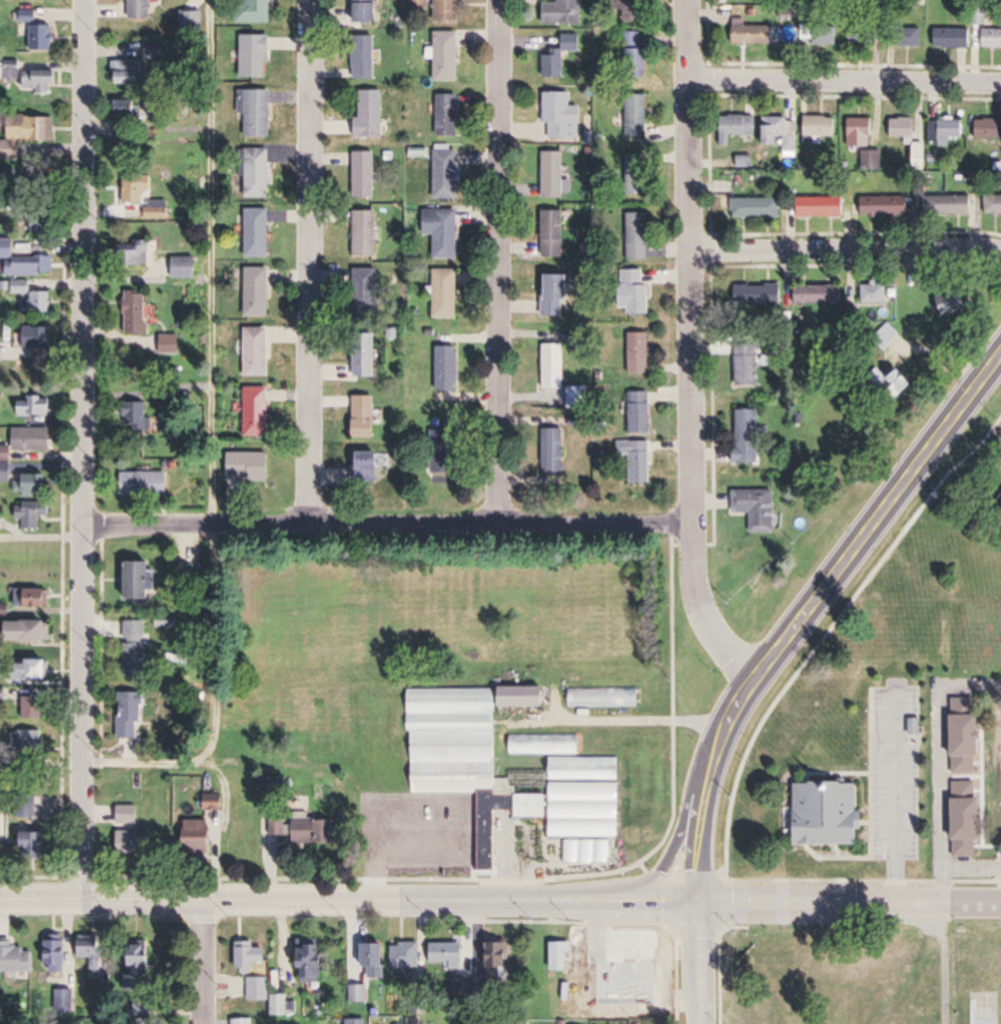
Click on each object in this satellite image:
building: (143, 9)
building: (257, 11)
building: (368, 11)
building: (449, 11)
building: (633, 11)
building: (564, 13)
building: (979, 16)
building: (818, 28)
building: (38, 31)
building: (753, 34)
building: (862, 35)
building: (909, 38)
building: (952, 39)
building: (990, 39)
building: (561, 55)
building: (257, 56)
building: (365, 57)
building: (448, 57)
building: (636, 57)
building: (127, 72)
building: (32, 77)
road: (846, 80)
building: (127, 109)
building: (258, 114)
building: (370, 114)
building: (449, 115)
building: (637, 116)
building: (563, 118)
building: (741, 125)
building: (822, 125)
building: (903, 128)
building: (987, 129)
building: (945, 131)
building: (861, 132)
building: (785, 133)
building: (27, 135)
building: (258, 173)
building: (365, 174)
building: (637, 174)
building: (447, 175)
building: (558, 187)
building: (139, 188)
building: (993, 204)
building: (885, 205)
building: (948, 205)
building: (822, 207)
building: (756, 208)
building: (159, 210)
building: (40, 222)
building: (443, 231)
building: (259, 233)
building: (366, 233)
building: (554, 233)
building: (639, 236)
road: (850, 246)
building: (141, 252)
building: (24, 261)
road: (501, 263)
road: (312, 264)
building: (184, 267)
building: (366, 288)
building: (258, 292)
building: (557, 292)
building: (446, 293)
building: (639, 293)
building: (758, 294)
building: (820, 294)
building: (875, 296)
building: (34, 297)
building: (137, 313)
building: (37, 337)
building: (1, 347)
road: (695, 348)
building: (258, 351)
building: (365, 356)
building: (641, 357)
building: (747, 364)
building: (449, 367)
building: (555, 371)
building: (903, 381)
building: (580, 396)
building: (35, 407)
building: (257, 411)
building: (641, 412)
building: (366, 415)
building: (135, 418)
building: (749, 436)
building: (33, 439)
road: (85, 449)
building: (444, 451)
building: (555, 451)
building: (640, 461)
building: (250, 466)
building: (370, 466)
road: (212, 480)
building: (145, 483)
building: (32, 484)
building: (998, 500)
building: (760, 511)
building: (34, 514)
road: (878, 517)
road: (389, 527)
road: (42, 537)
building: (144, 579)
building: (36, 597)
building: (37, 631)
building: (137, 648)
building: (32, 671)
building: (525, 696)
building: (604, 697)
road: (741, 697)
building: (33, 708)
building: (132, 715)
building: (968, 734)
building: (544, 744)
road: (944, 768)
building: (453, 779)
building: (214, 802)
building: (581, 805)
building: (27, 806)
road: (705, 809)
building: (128, 815)
building: (969, 819)
road: (681, 821)
building: (830, 827)
building: (278, 831)
building: (315, 831)
building: (199, 835)
building: (131, 843)
building: (33, 846)
road: (304, 899)
road: (653, 903)
road: (849, 905)
building: (94, 952)
building: (449, 954)
building: (57, 956)
building: (251, 956)
building: (563, 956)
building: (407, 957)
building: (313, 959)
building: (499, 959)
building: (375, 960)
road: (210, 961)
road: (700, 964)
building: (141, 968)
park: (864, 975)
building: (613, 985)
building: (258, 993)
building: (359, 993)
building: (419, 1005)
building: (357, 1021)

